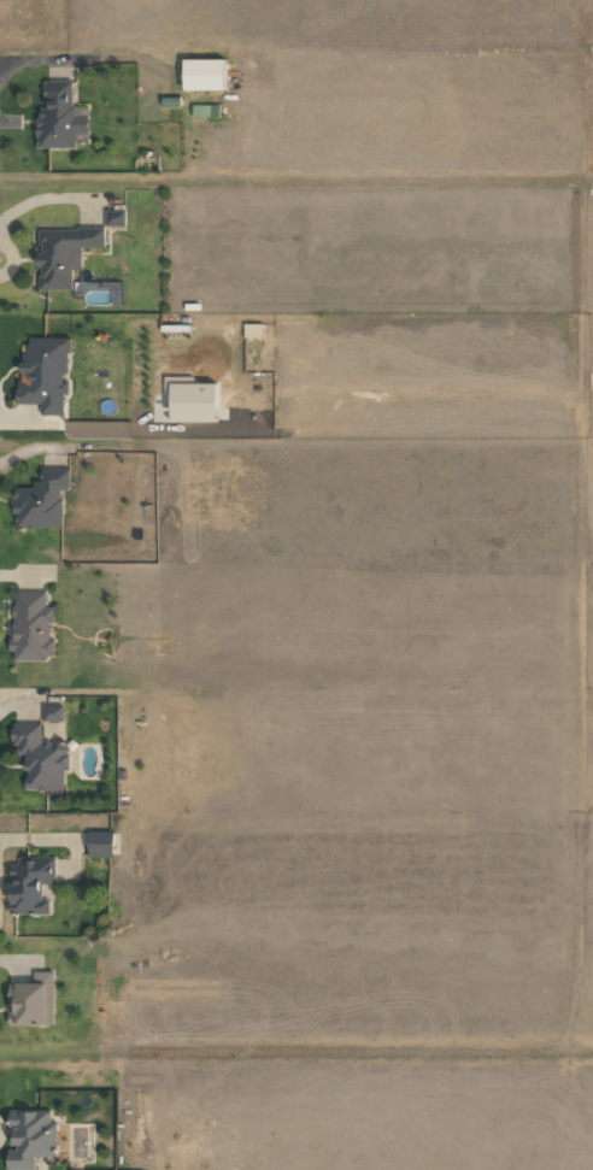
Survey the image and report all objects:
building: (202, 74)
building: (205, 110)
building: (60, 117)
building: (115, 217)
building: (63, 253)
building: (252, 329)
building: (43, 374)
building: (41, 499)
building: (31, 627)
building: (53, 712)
building: (40, 757)
building: (99, 843)
building: (29, 883)
building: (31, 1000)
building: (30, 1137)

